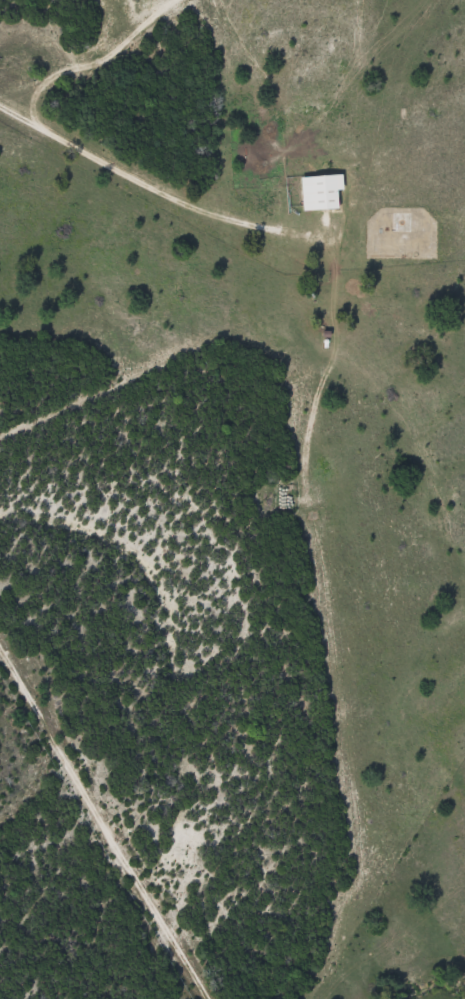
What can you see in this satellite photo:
building: (324, 189)

